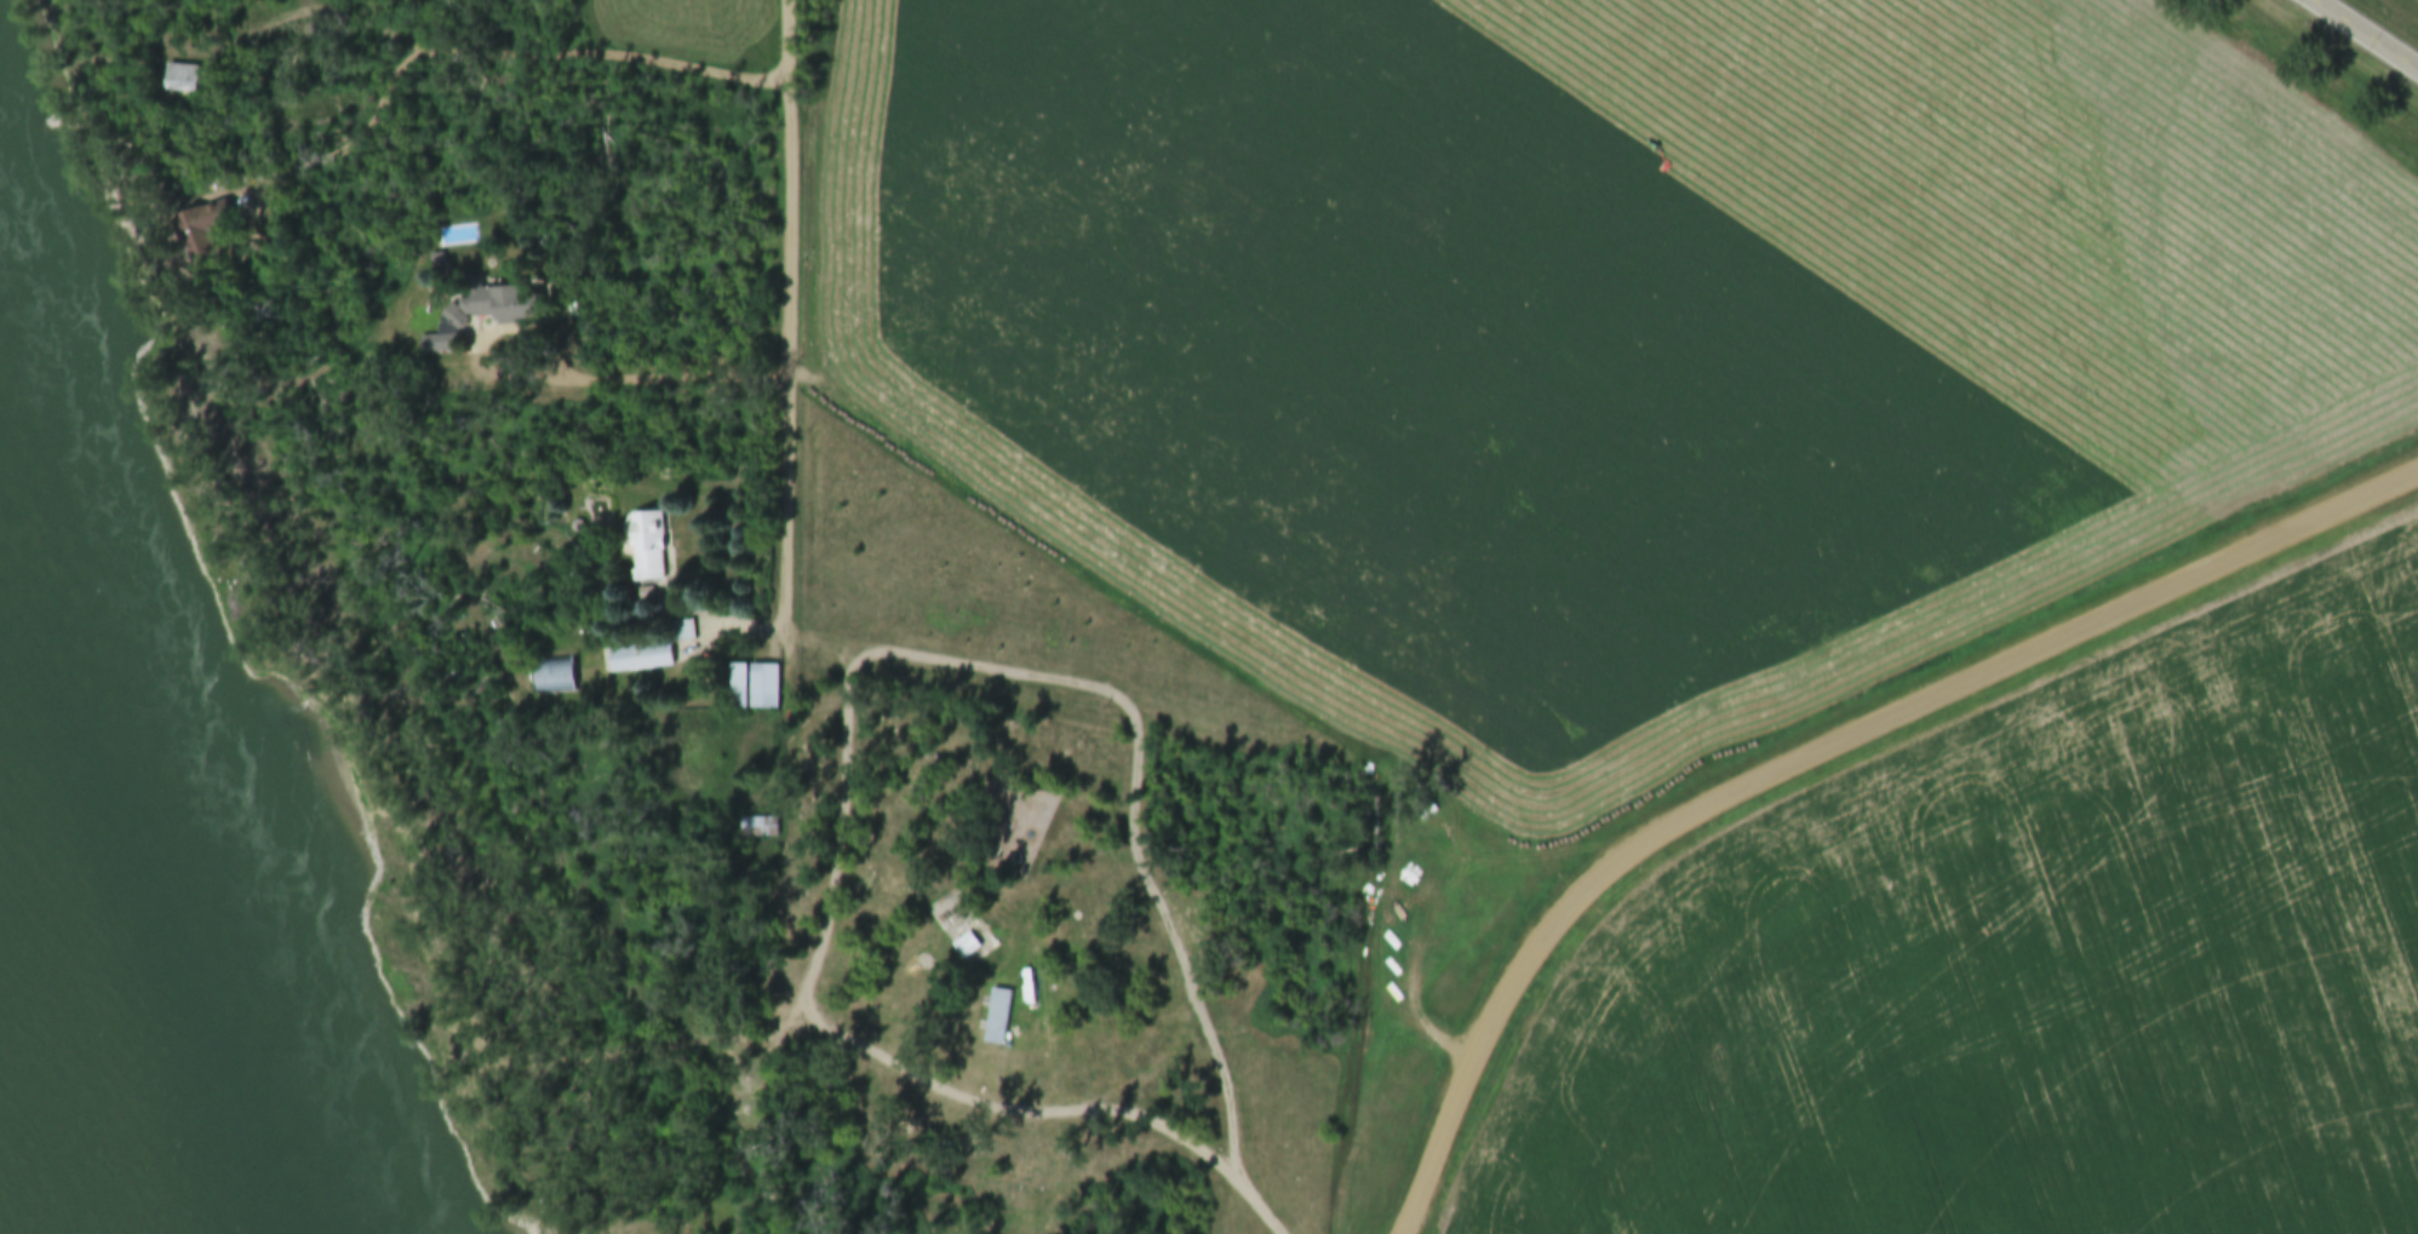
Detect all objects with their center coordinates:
road: (2357, 38)
building: (182, 79)
building: (492, 303)
road: (790, 317)
building: (647, 549)
building: (649, 652)
building: (738, 688)
building: (764, 689)
road: (1805, 754)
building: (681, 757)
road: (1122, 780)
building: (761, 830)
building: (967, 947)
park: (930, 960)
building: (998, 1018)
river: (82, 1032)
road: (870, 1056)

